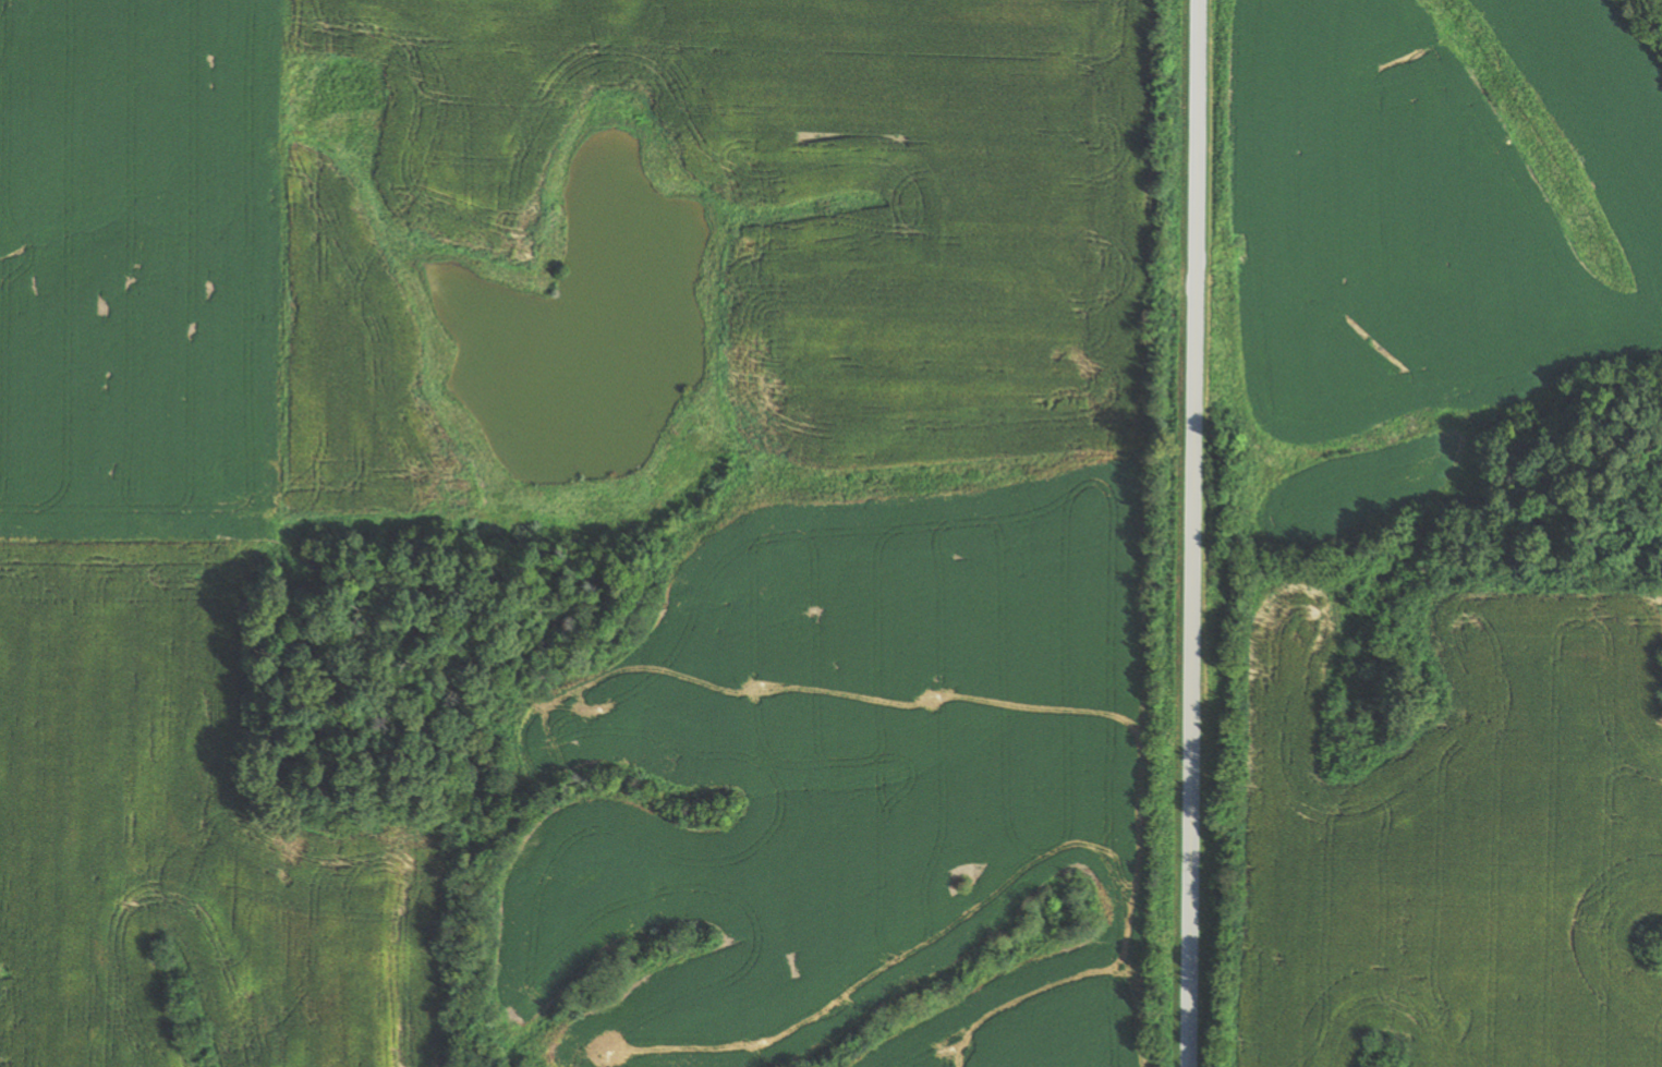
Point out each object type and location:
road: (1194, 533)

